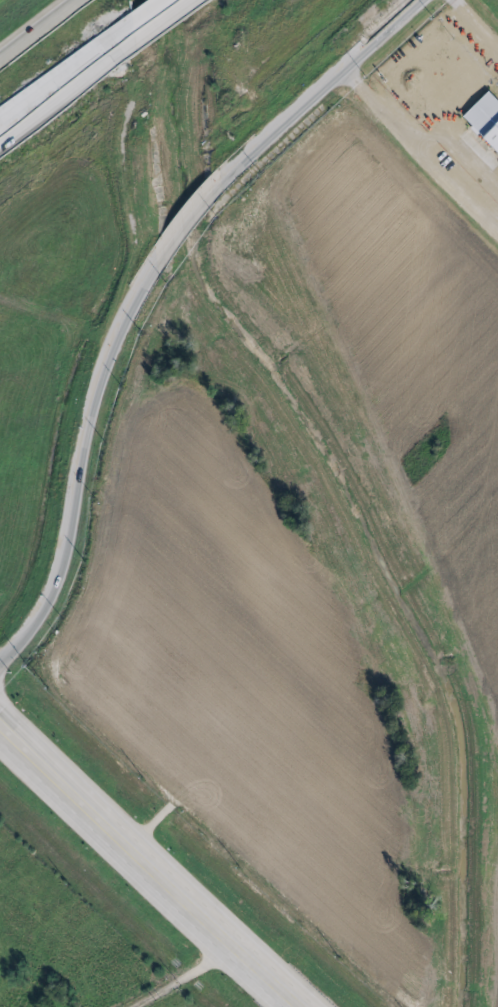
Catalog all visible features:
road: (157, 19)
road: (475, 23)
road: (42, 29)
road: (66, 84)
road: (316, 89)
building: (486, 117)
road: (420, 136)
road: (187, 219)
road: (82, 467)
road: (153, 866)
road: (185, 975)

